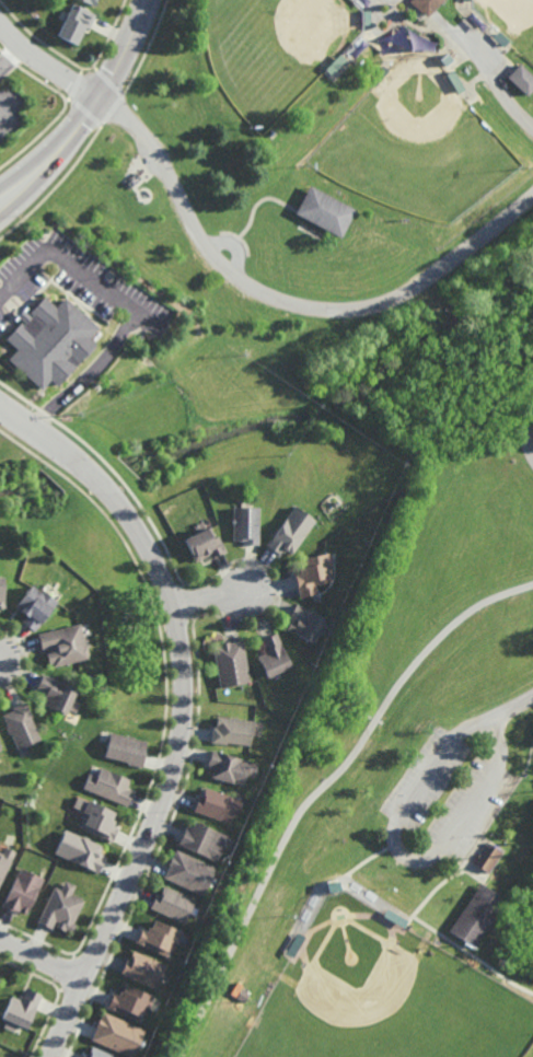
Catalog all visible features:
building: (92, 1)
road: (387, 4)
building: (427, 4)
road: (401, 14)
building: (368, 16)
park: (511, 21)
building: (78, 23)
road: (448, 28)
building: (502, 37)
park: (276, 49)
road: (12, 56)
building: (448, 59)
road: (46, 63)
road: (124, 63)
road: (496, 79)
building: (521, 79)
parking lot: (10, 107)
park: (418, 143)
road: (42, 154)
road: (45, 173)
building: (324, 210)
road: (236, 246)
parking lot: (76, 282)
road: (286, 302)
road: (127, 304)
building: (51, 340)
road: (526, 431)
building: (245, 522)
building: (290, 527)
building: (201, 541)
building: (313, 570)
building: (0, 594)
park: (444, 596)
road: (212, 601)
building: (34, 603)
building: (306, 620)
building: (63, 642)
building: (273, 653)
building: (231, 662)
building: (56, 693)
road: (186, 707)
road: (512, 707)
building: (21, 724)
building: (233, 730)
building: (0, 746)
building: (126, 748)
building: (231, 766)
building: (108, 785)
road: (323, 789)
building: (218, 804)
building: (97, 820)
building: (202, 839)
building: (79, 849)
building: (489, 857)
road: (409, 858)
building: (3, 866)
building: (189, 871)
building: (21, 891)
building: (173, 904)
building: (60, 907)
building: (477, 916)
building: (495, 928)
building: (160, 938)
road: (43, 962)
building: (144, 969)
building: (243, 996)
park: (385, 996)
building: (130, 1002)
building: (20, 1009)
building: (117, 1034)
building: (99, 1053)

